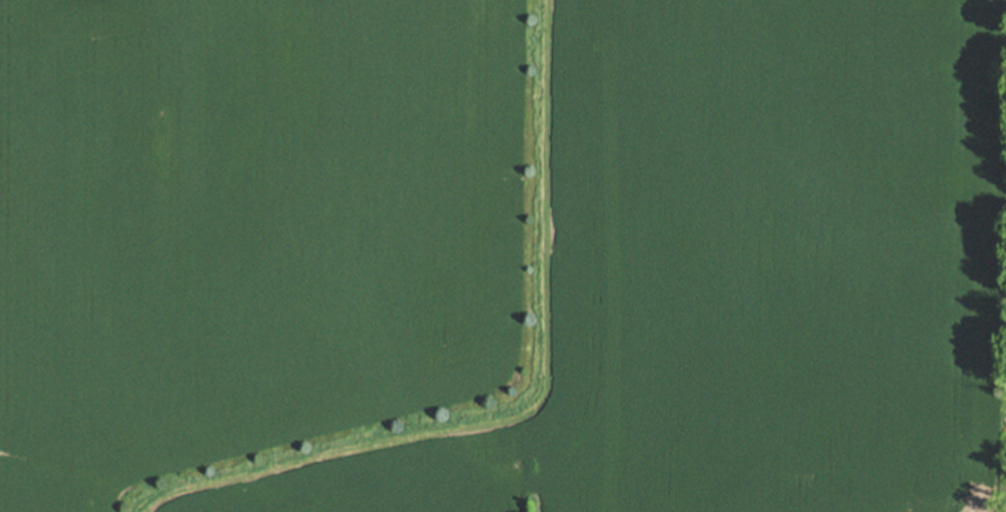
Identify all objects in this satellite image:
crop: (503, 256)

